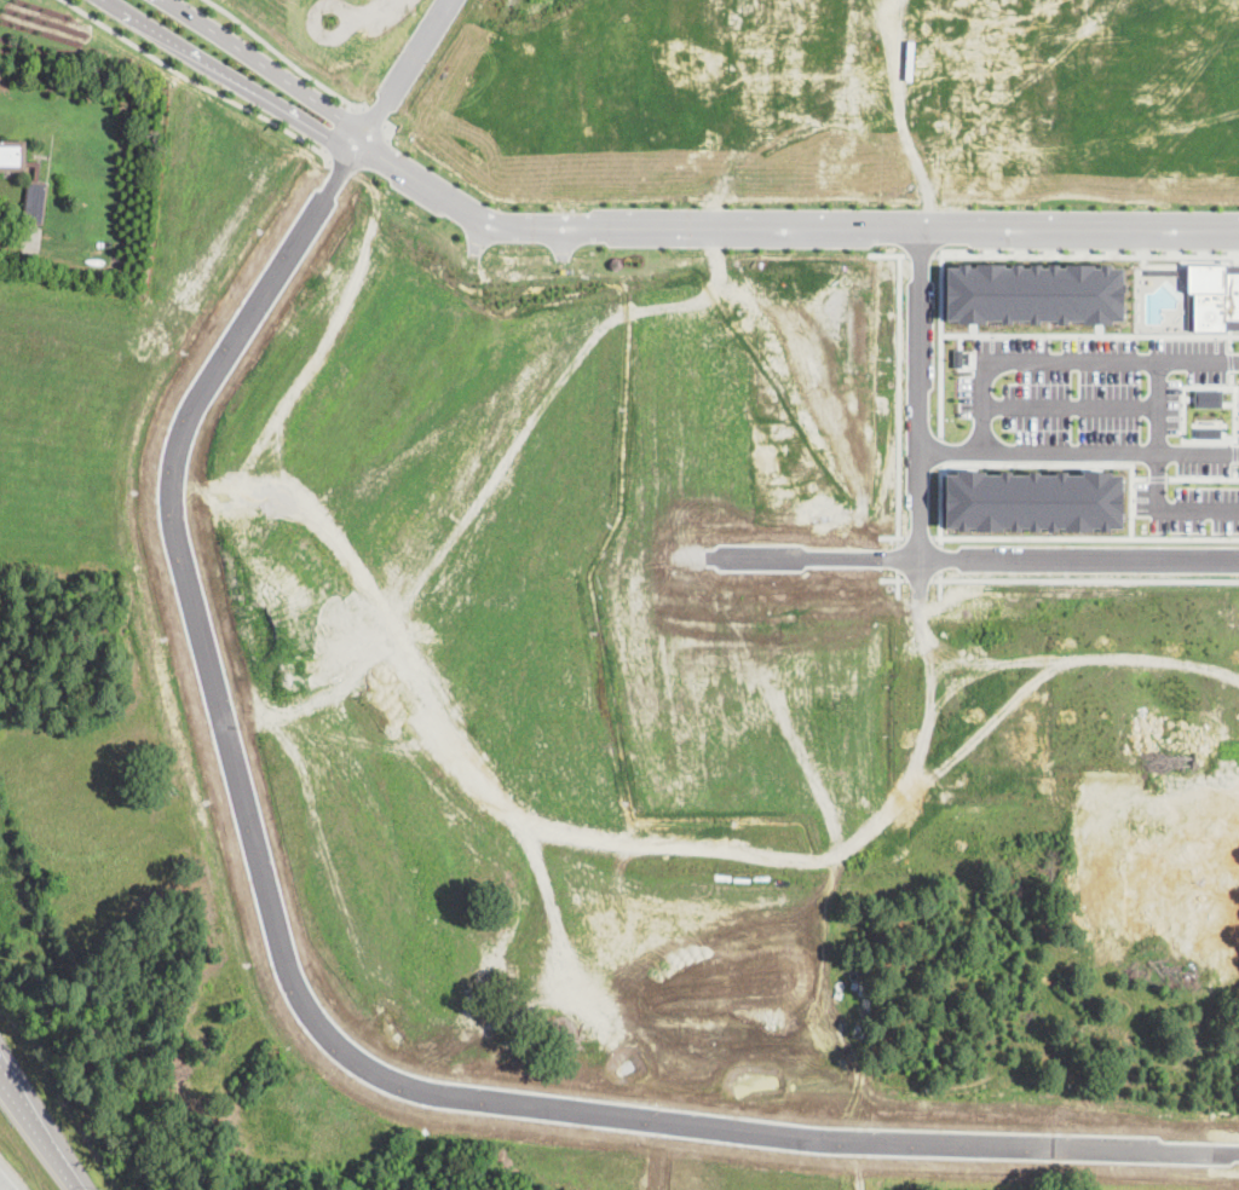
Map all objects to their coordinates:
road: (324, 5)
road: (368, 8)
road: (283, 58)
road: (266, 65)
road: (402, 71)
road: (232, 75)
road: (197, 83)
road: (900, 114)
road: (340, 131)
building: (13, 156)
building: (36, 173)
building: (35, 203)
road: (786, 225)
road: (886, 254)
road: (918, 255)
road: (1085, 255)
building: (1036, 294)
building: (1212, 296)
road: (1089, 334)
road: (1229, 342)
road: (939, 346)
road: (1068, 359)
road: (1229, 359)
road: (1231, 377)
road: (1183, 386)
road: (918, 389)
building: (1208, 397)
road: (898, 399)
road: (1068, 405)
parking lot: (1116, 417)
building: (1209, 432)
road: (1078, 450)
road: (939, 451)
road: (1235, 452)
road: (1070, 462)
road: (1235, 469)
road: (1140, 478)
road: (1158, 478)
road: (1158, 478)
road: (1203, 478)
building: (1036, 501)
road: (939, 506)
road: (892, 536)
road: (917, 537)
road: (1084, 537)
road: (898, 556)
road: (978, 556)
road: (939, 559)
road: (891, 578)
road: (917, 579)
road: (1085, 579)
road: (898, 583)
road: (940, 584)
road: (315, 1017)
road: (28, 1113)
road: (68, 1173)
road: (2, 1186)

